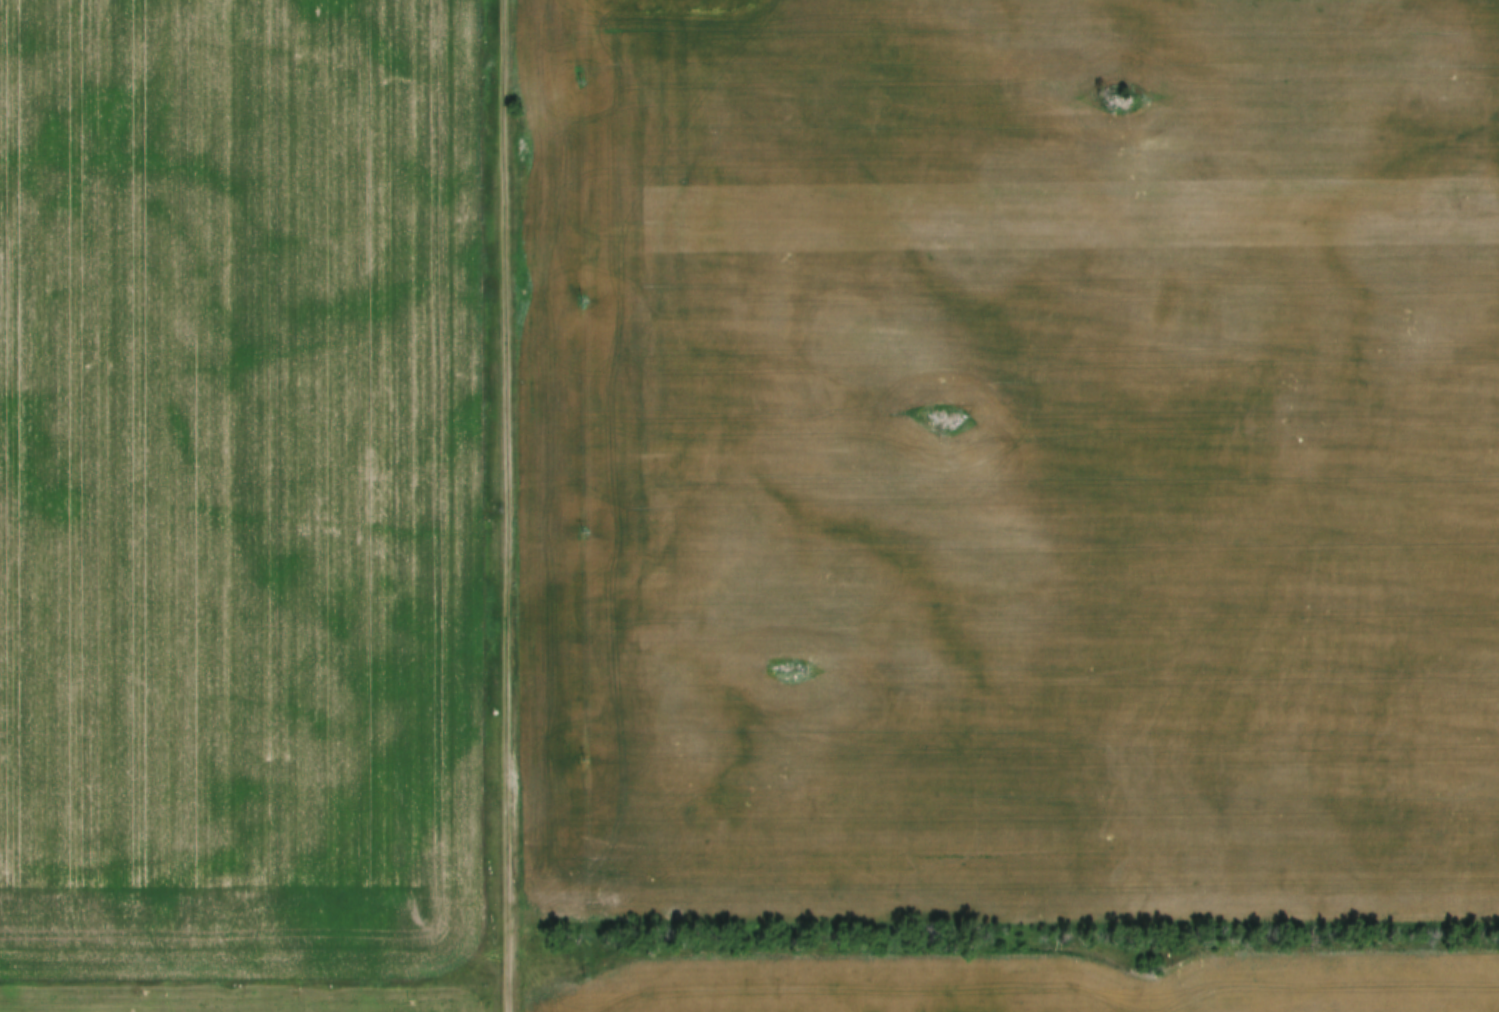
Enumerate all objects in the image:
road: (515, 505)

